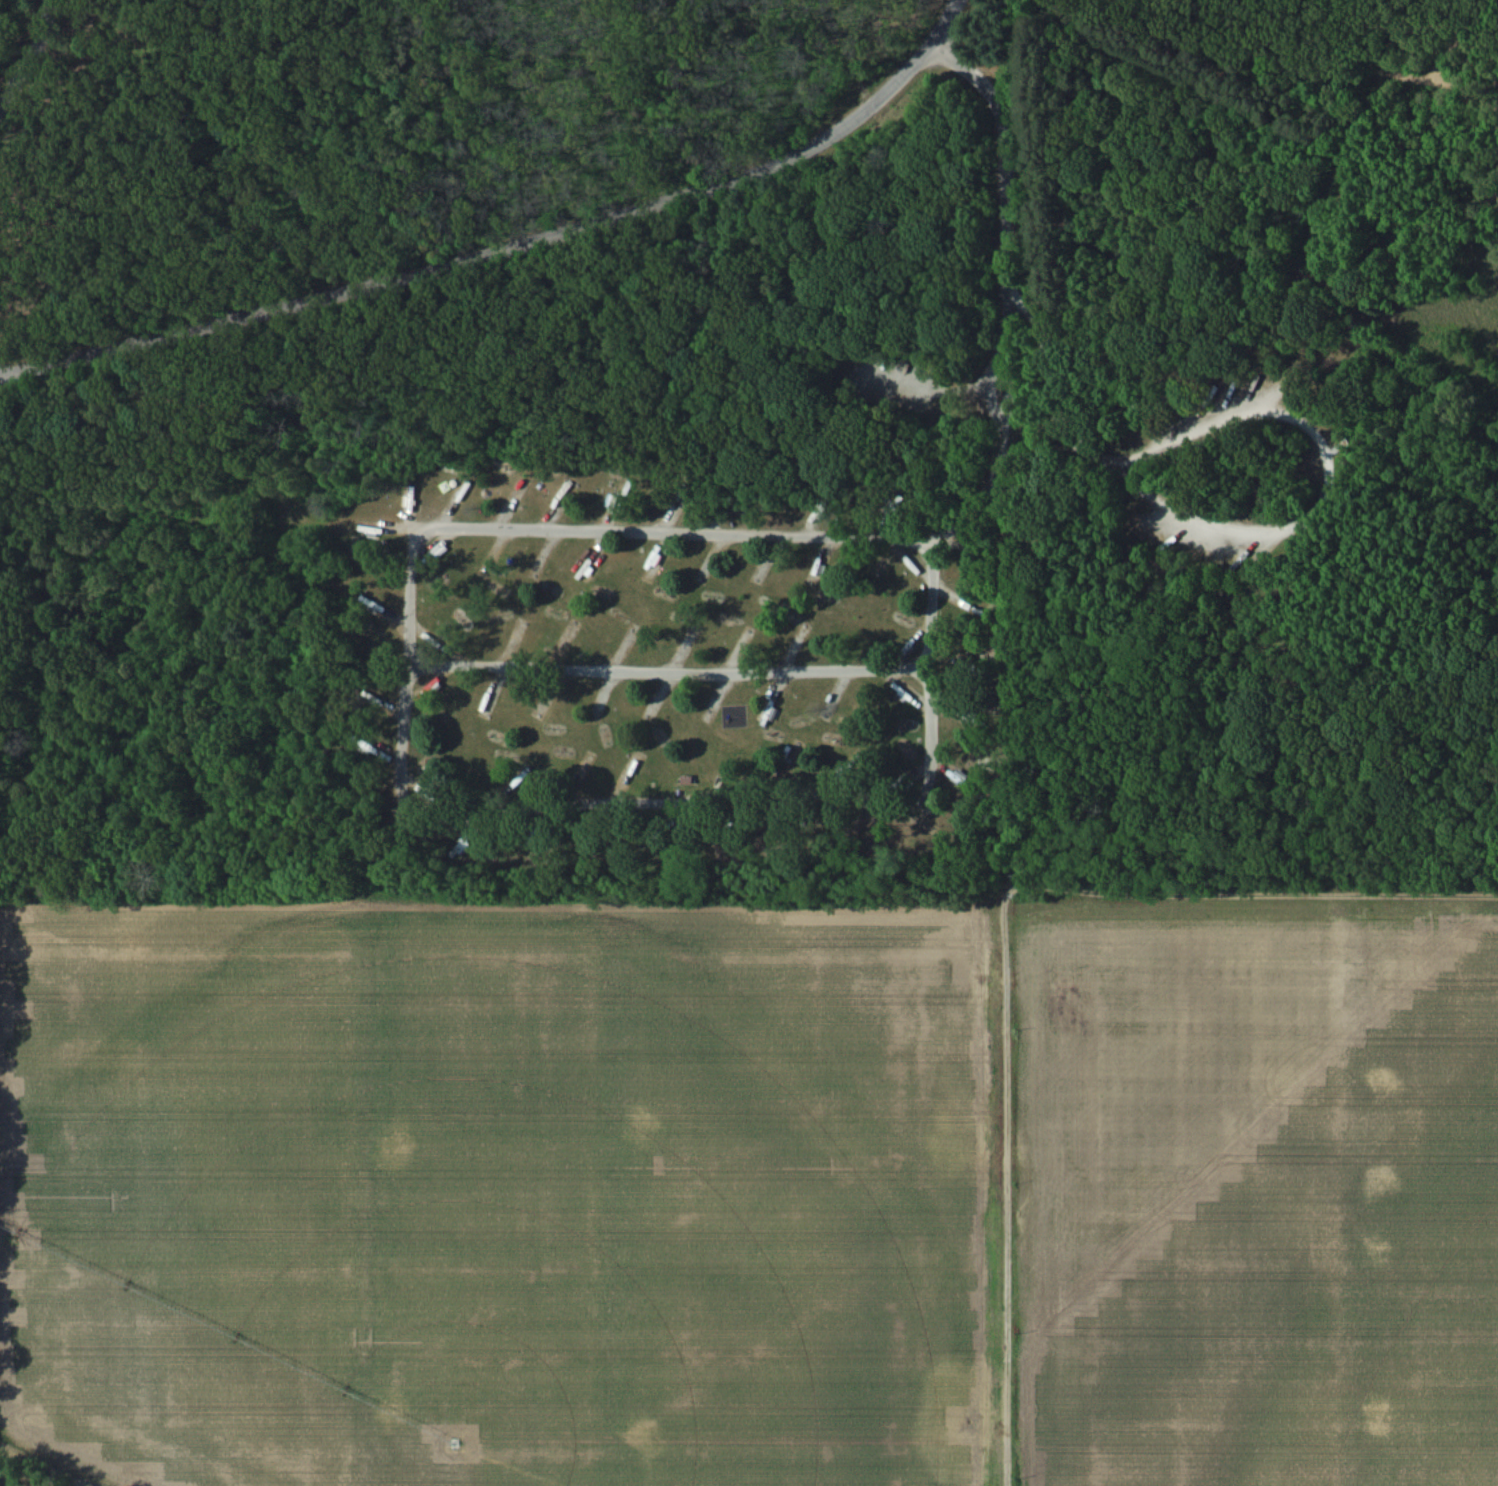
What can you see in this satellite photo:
road: (35, 57)
road: (1283, 99)
road: (510, 246)
road: (1048, 377)
road: (1304, 437)
road: (729, 534)
building: (913, 568)
building: (374, 604)
road: (664, 673)
road: (1236, 809)
road: (638, 832)
road: (975, 860)

